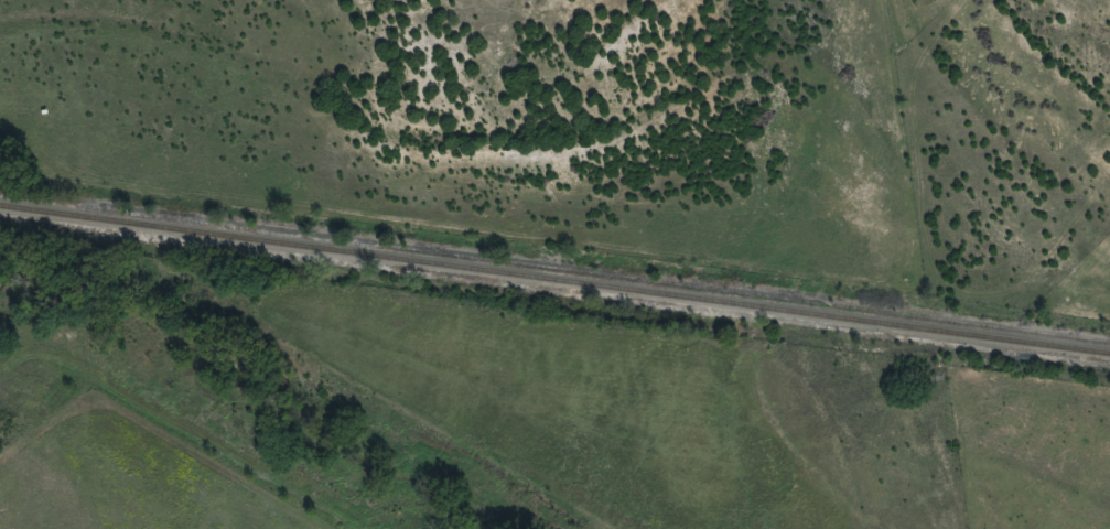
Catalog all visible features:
railway: (554, 279)

